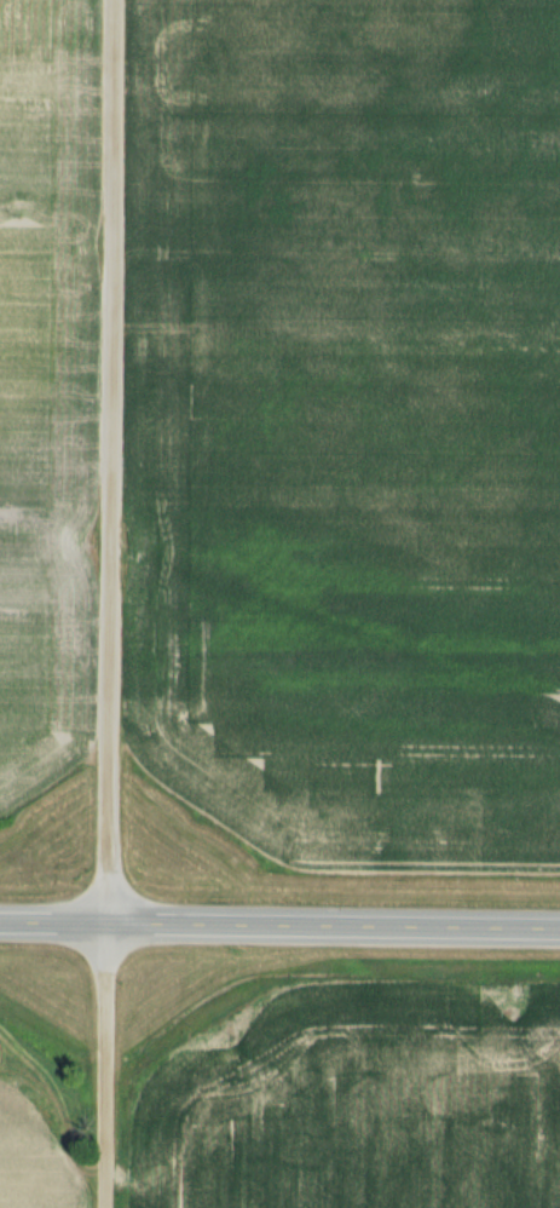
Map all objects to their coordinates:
road: (106, 603)
road: (279, 925)

